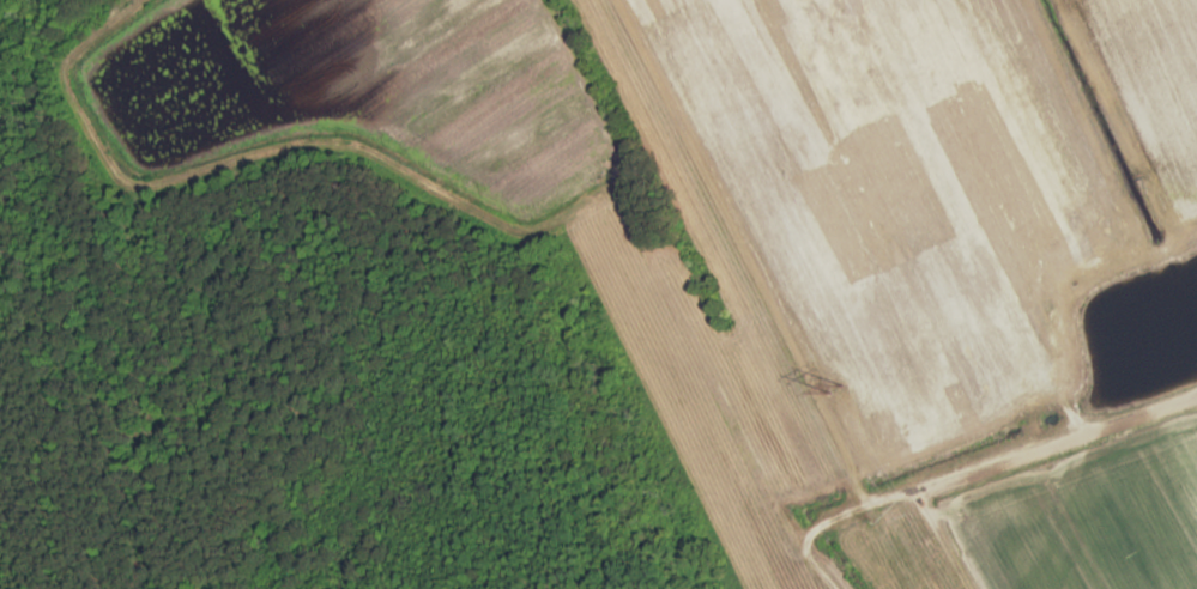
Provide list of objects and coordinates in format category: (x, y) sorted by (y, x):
power tower: (838, 389)

